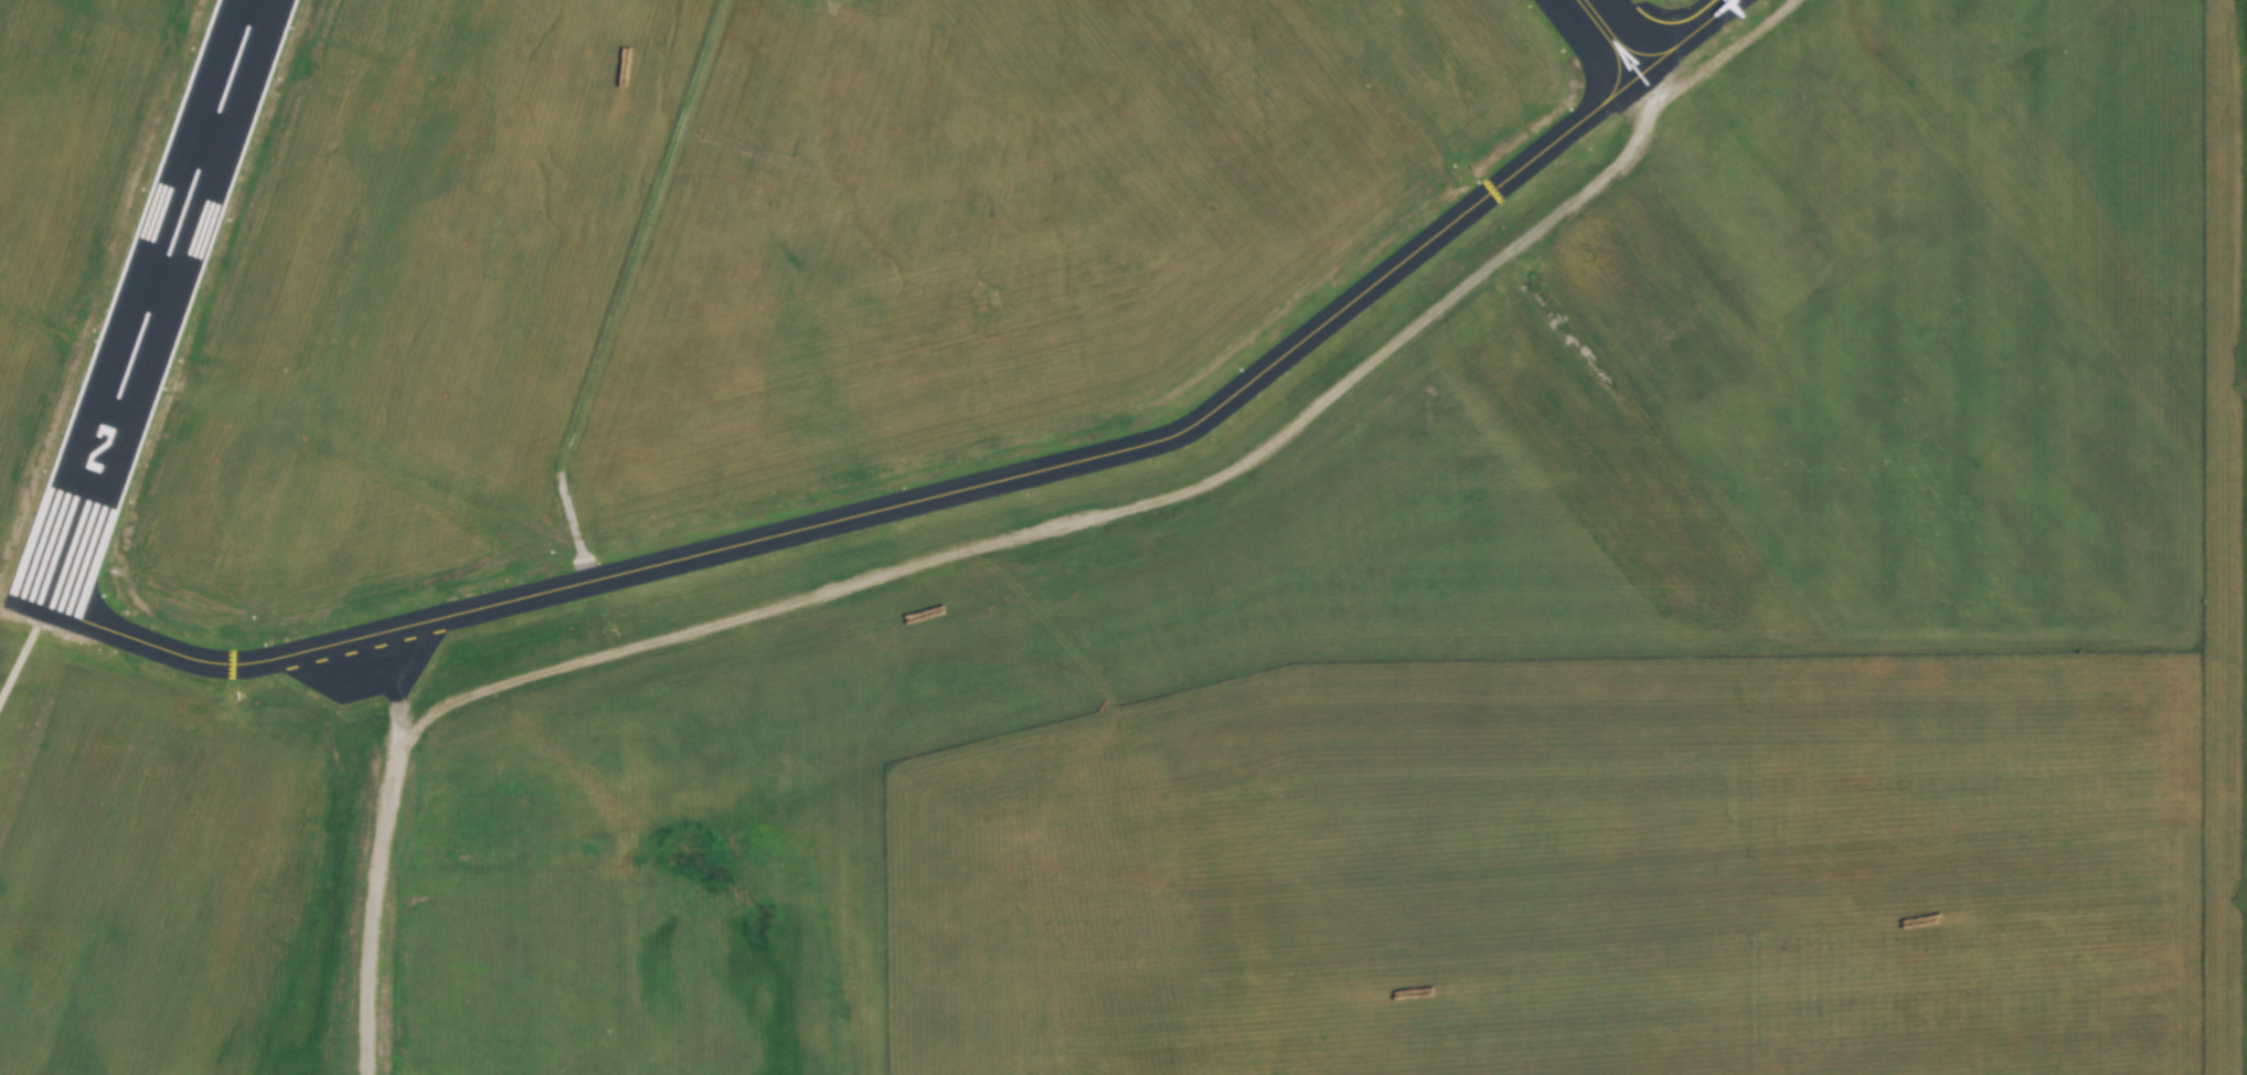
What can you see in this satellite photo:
airport runway: (1611, 42)
airport runway: (142, 311)
airport taxiway: (946, 491)
road: (1156, 499)
airport: (1123, 537)
road: (371, 881)

